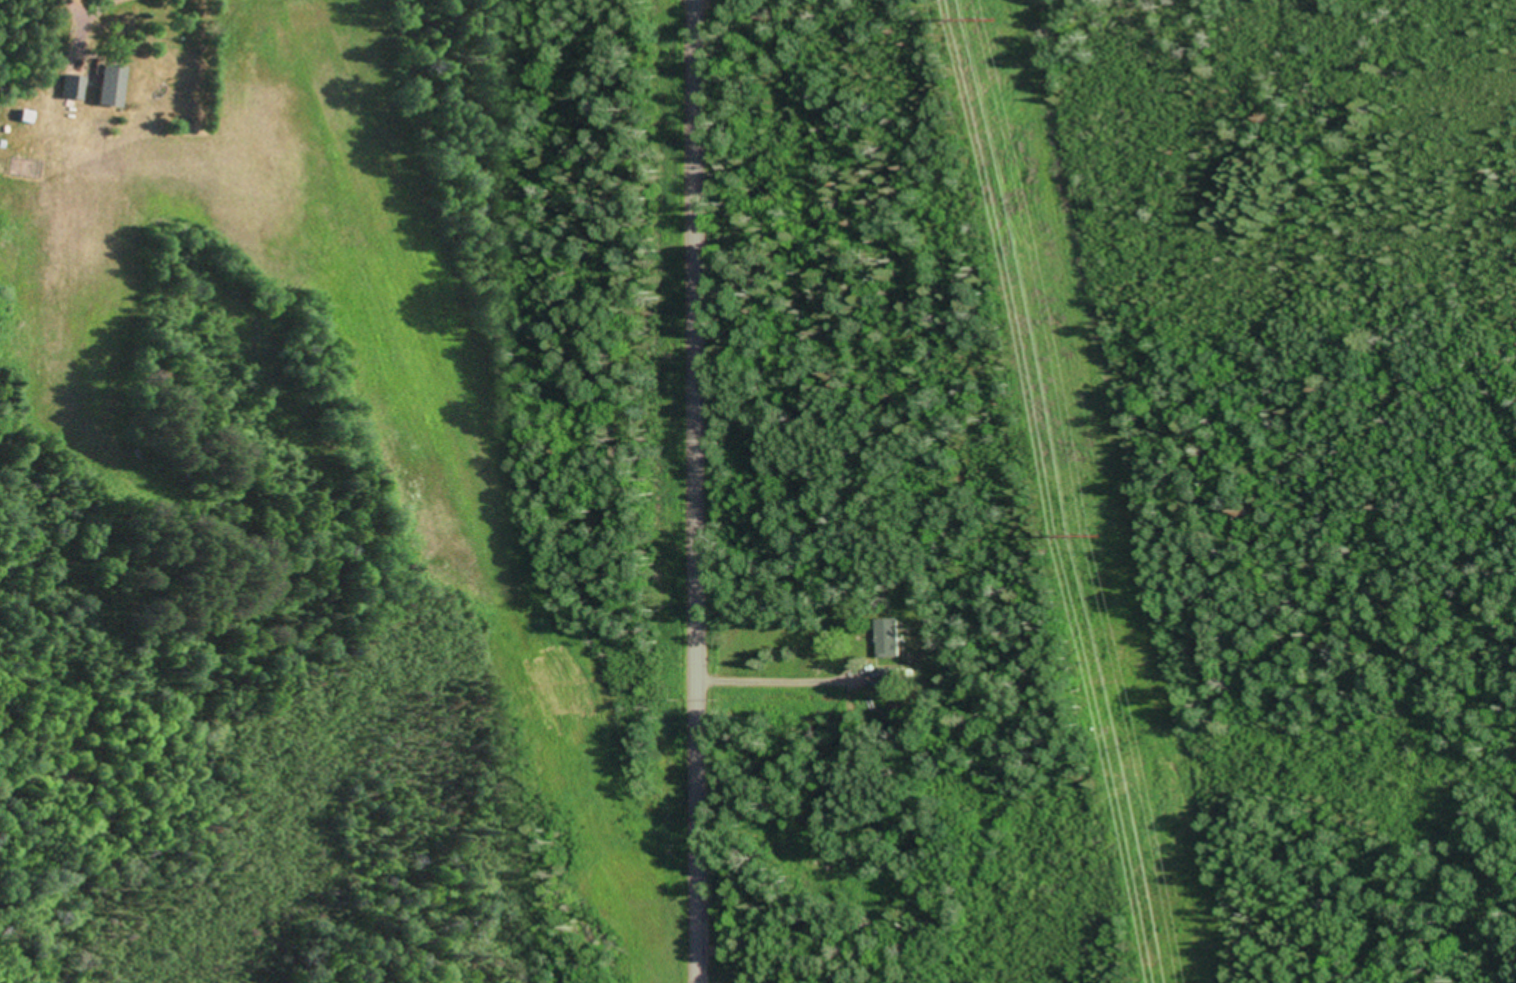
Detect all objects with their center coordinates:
power tower: (994, 20)
building: (105, 87)
building: (70, 89)
road: (699, 491)
power tower: (1099, 536)
building: (888, 640)

